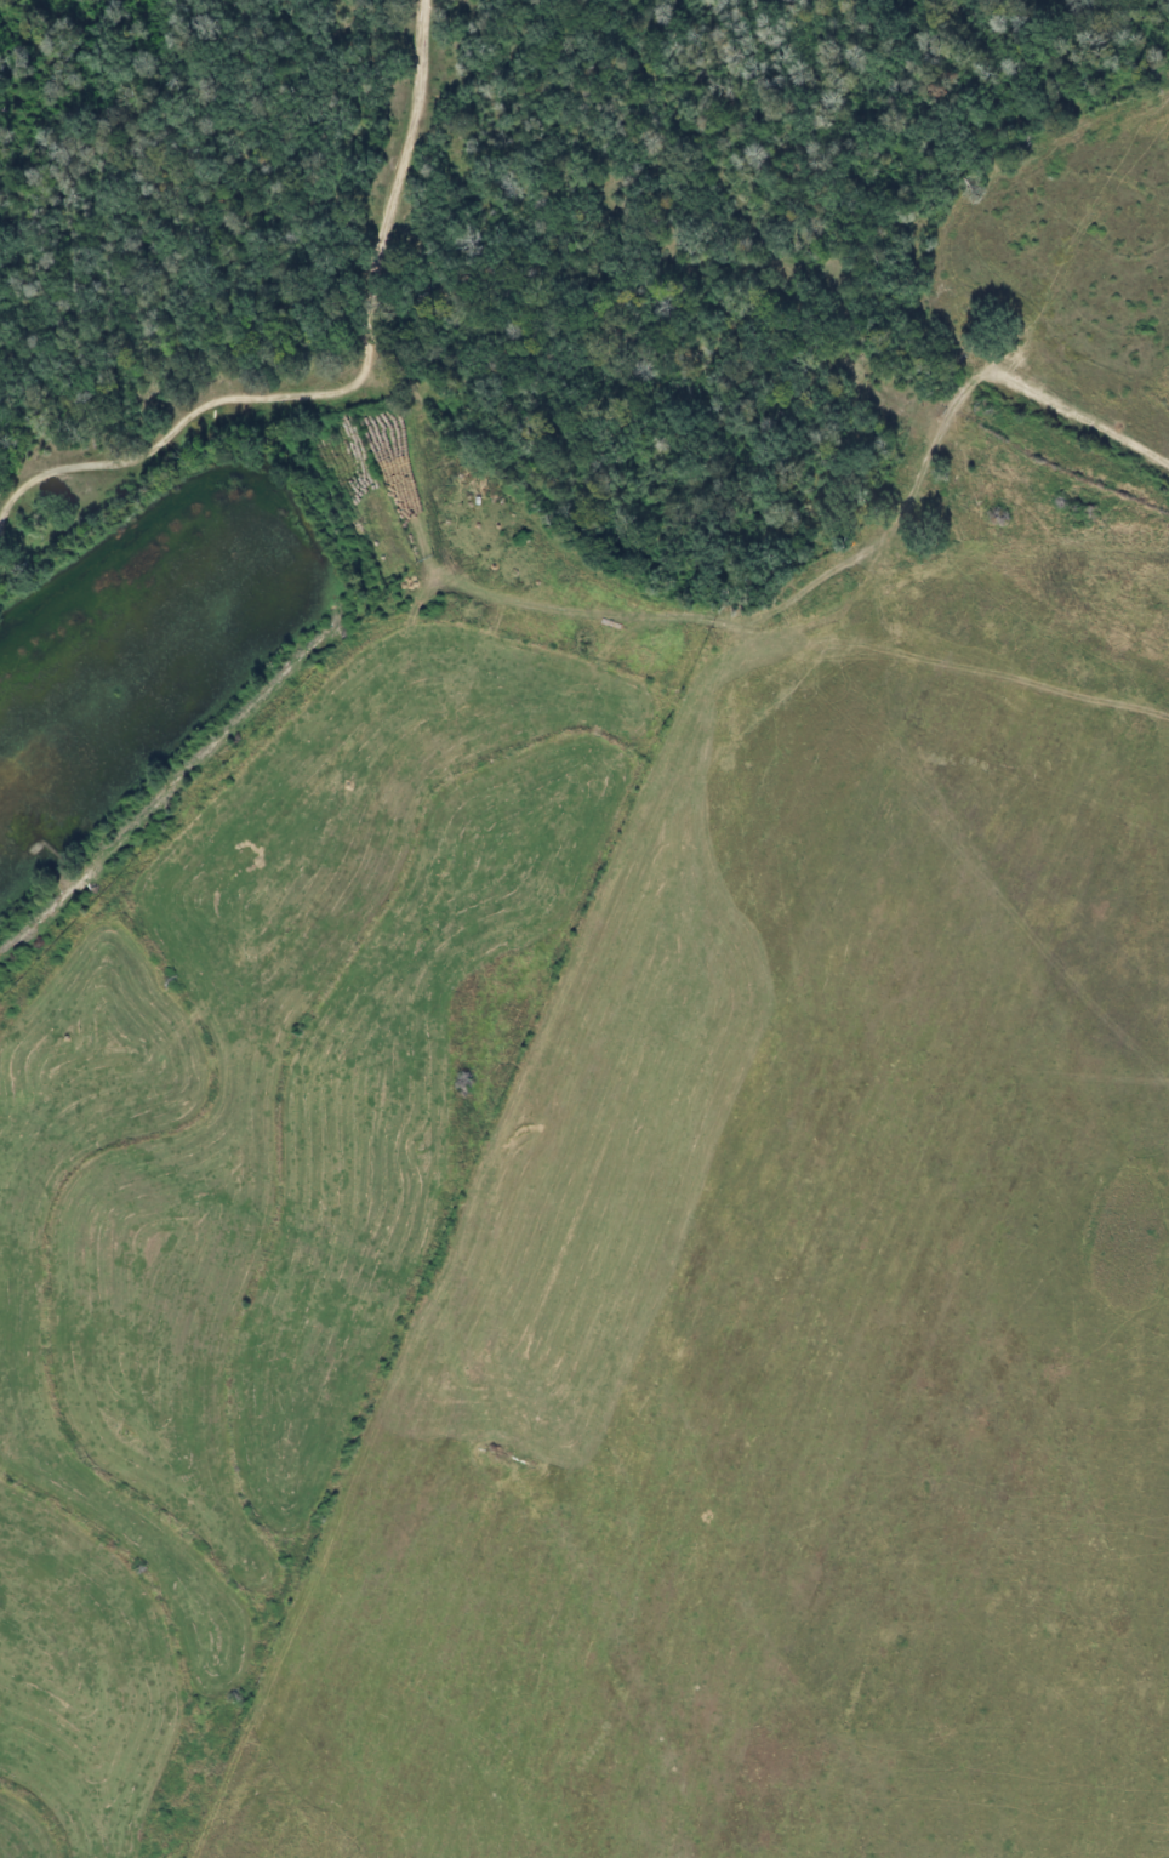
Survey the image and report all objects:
road: (389, 19)
road: (115, 489)

